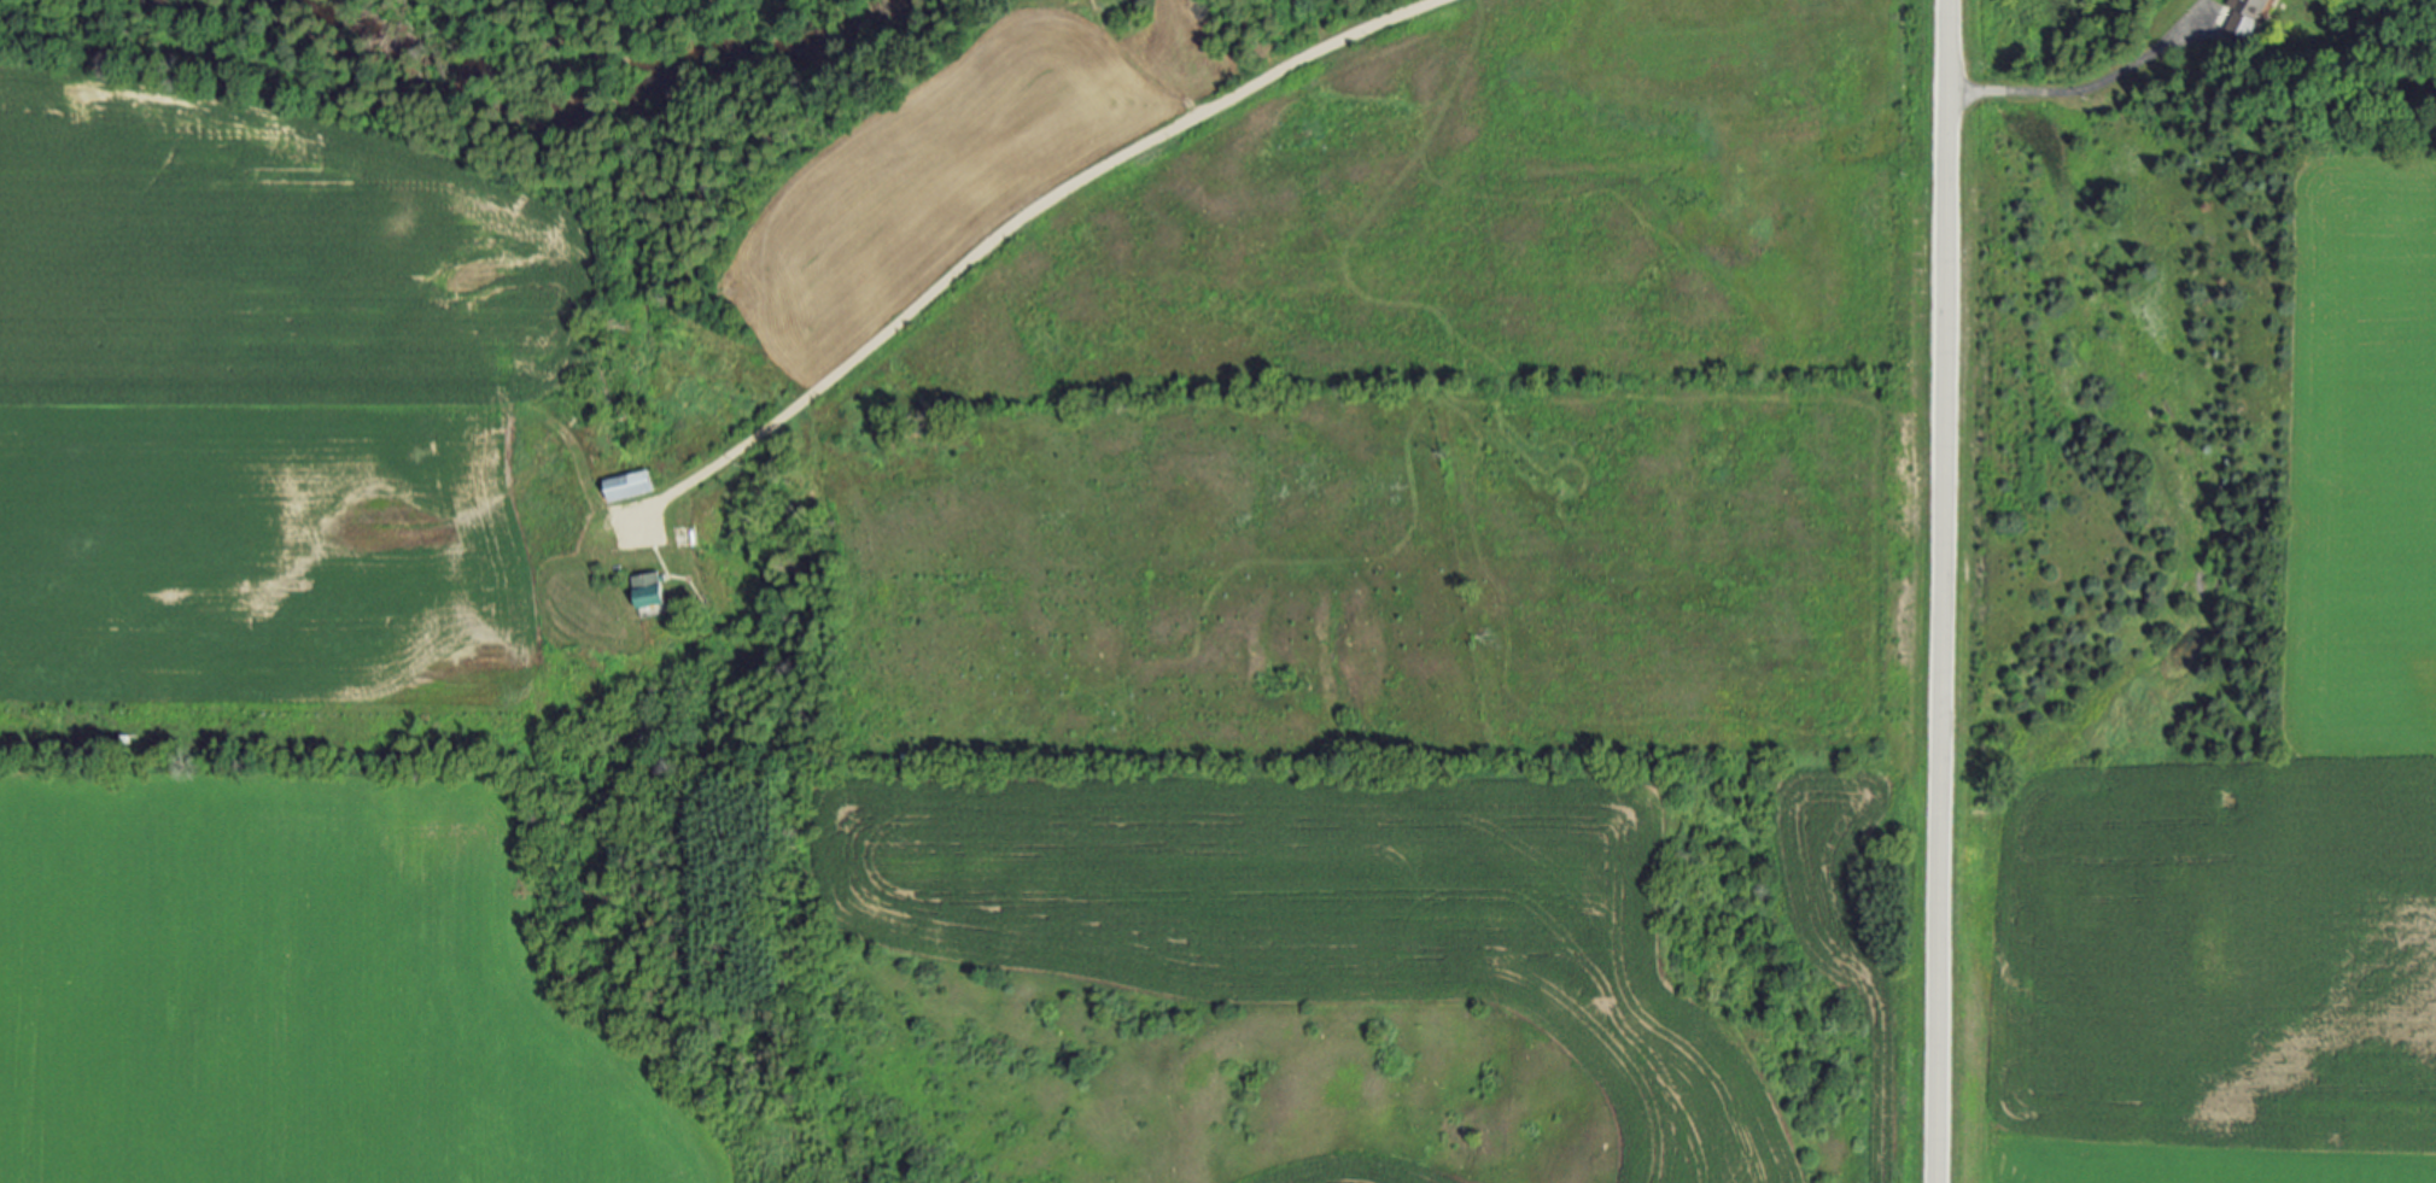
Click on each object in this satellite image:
building: (2243, 17)
road: (2080, 90)
river: (584, 94)
road: (1012, 223)
building: (632, 487)
building: (650, 591)
road: (1943, 591)

